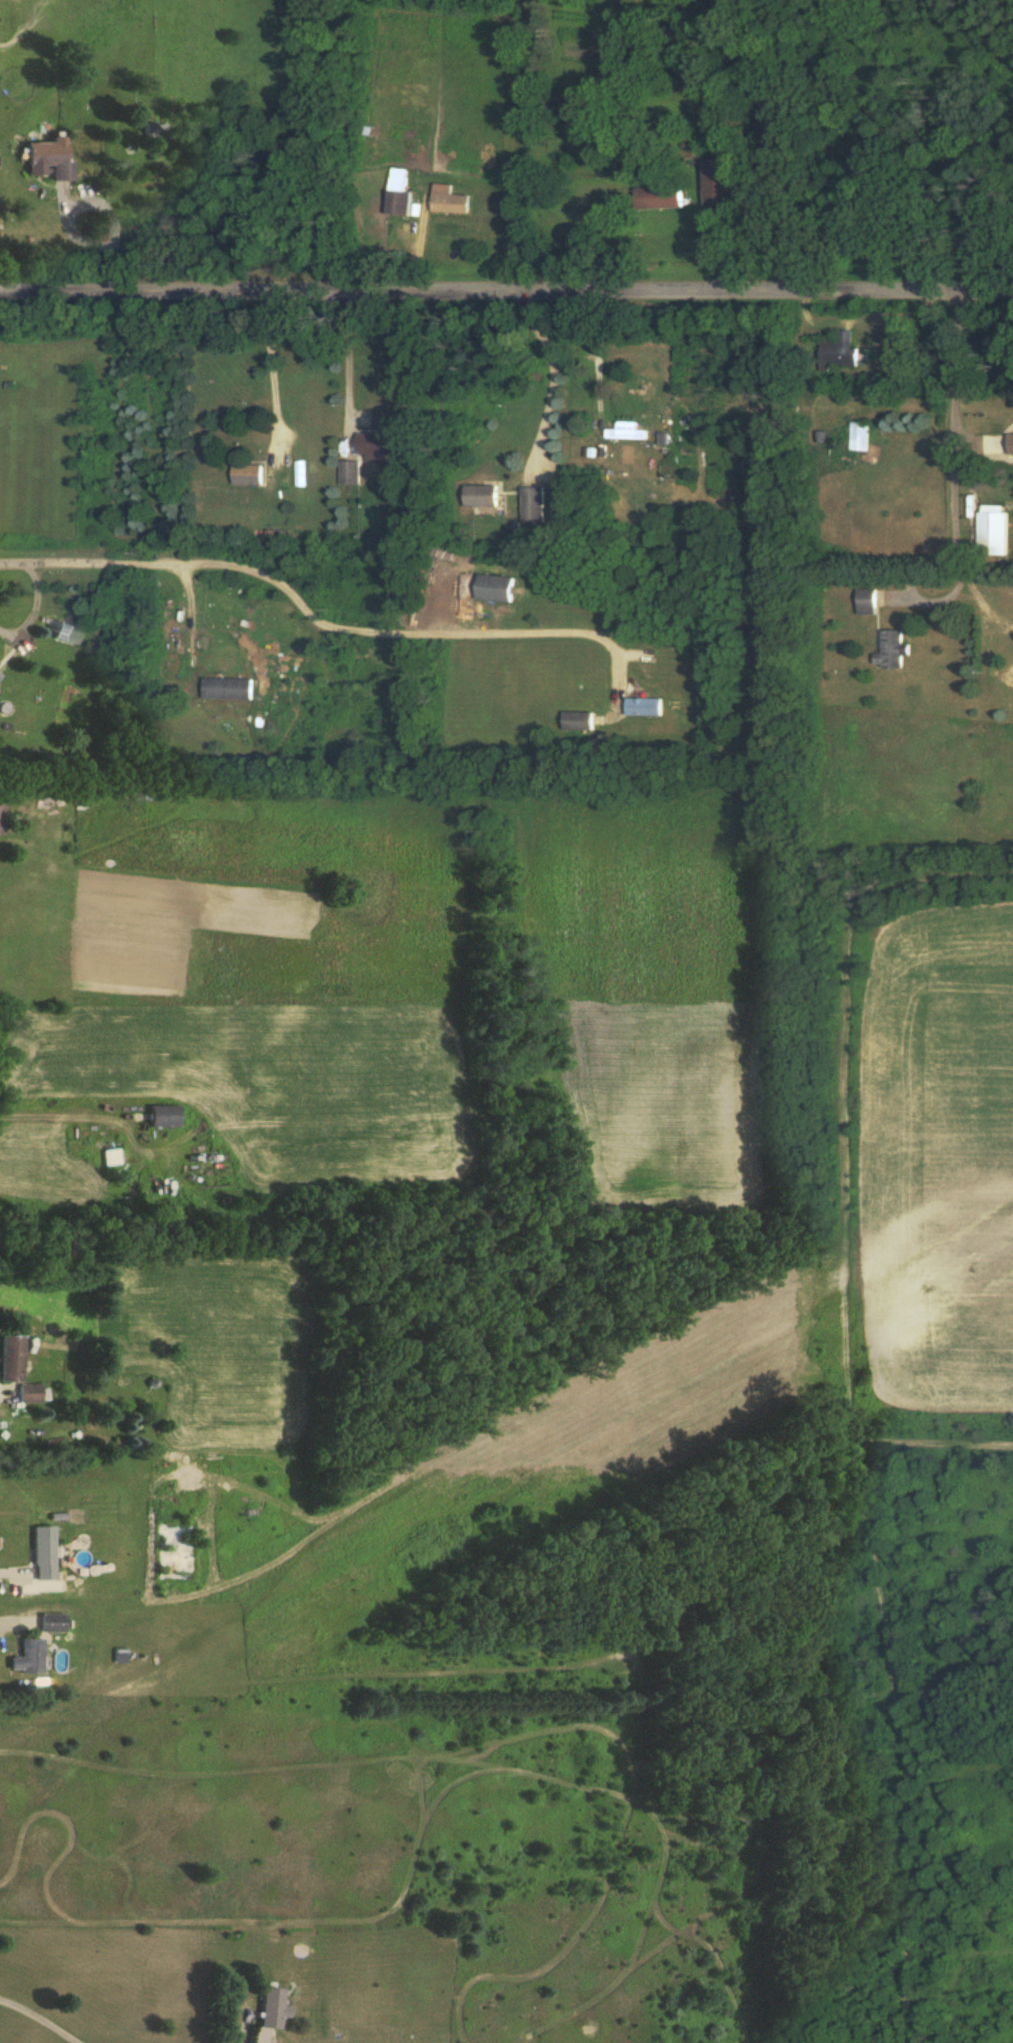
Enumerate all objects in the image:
building: (47, 156)
building: (716, 182)
building: (397, 192)
building: (656, 197)
building: (447, 200)
road: (102, 222)
road: (506, 293)
building: (837, 353)
road: (349, 369)
road: (270, 370)
road: (555, 374)
road: (951, 422)
building: (625, 431)
building: (860, 433)
building: (375, 443)
building: (1010, 444)
building: (347, 473)
building: (246, 474)
building: (479, 495)
building: (531, 503)
building: (990, 529)
road: (194, 562)
road: (976, 580)
building: (493, 587)
building: (864, 601)
road: (520, 630)
building: (888, 649)
building: (226, 688)
building: (642, 706)
building: (575, 720)
building: (1, 819)
road: (61, 1114)
building: (160, 1115)
building: (109, 1156)
building: (11, 1359)
building: (29, 1393)
building: (43, 1553)
road: (10, 1571)
road: (13, 1619)
building: (51, 1621)
building: (26, 1656)
building: (267, 2007)
road: (43, 2017)
road: (268, 2041)

